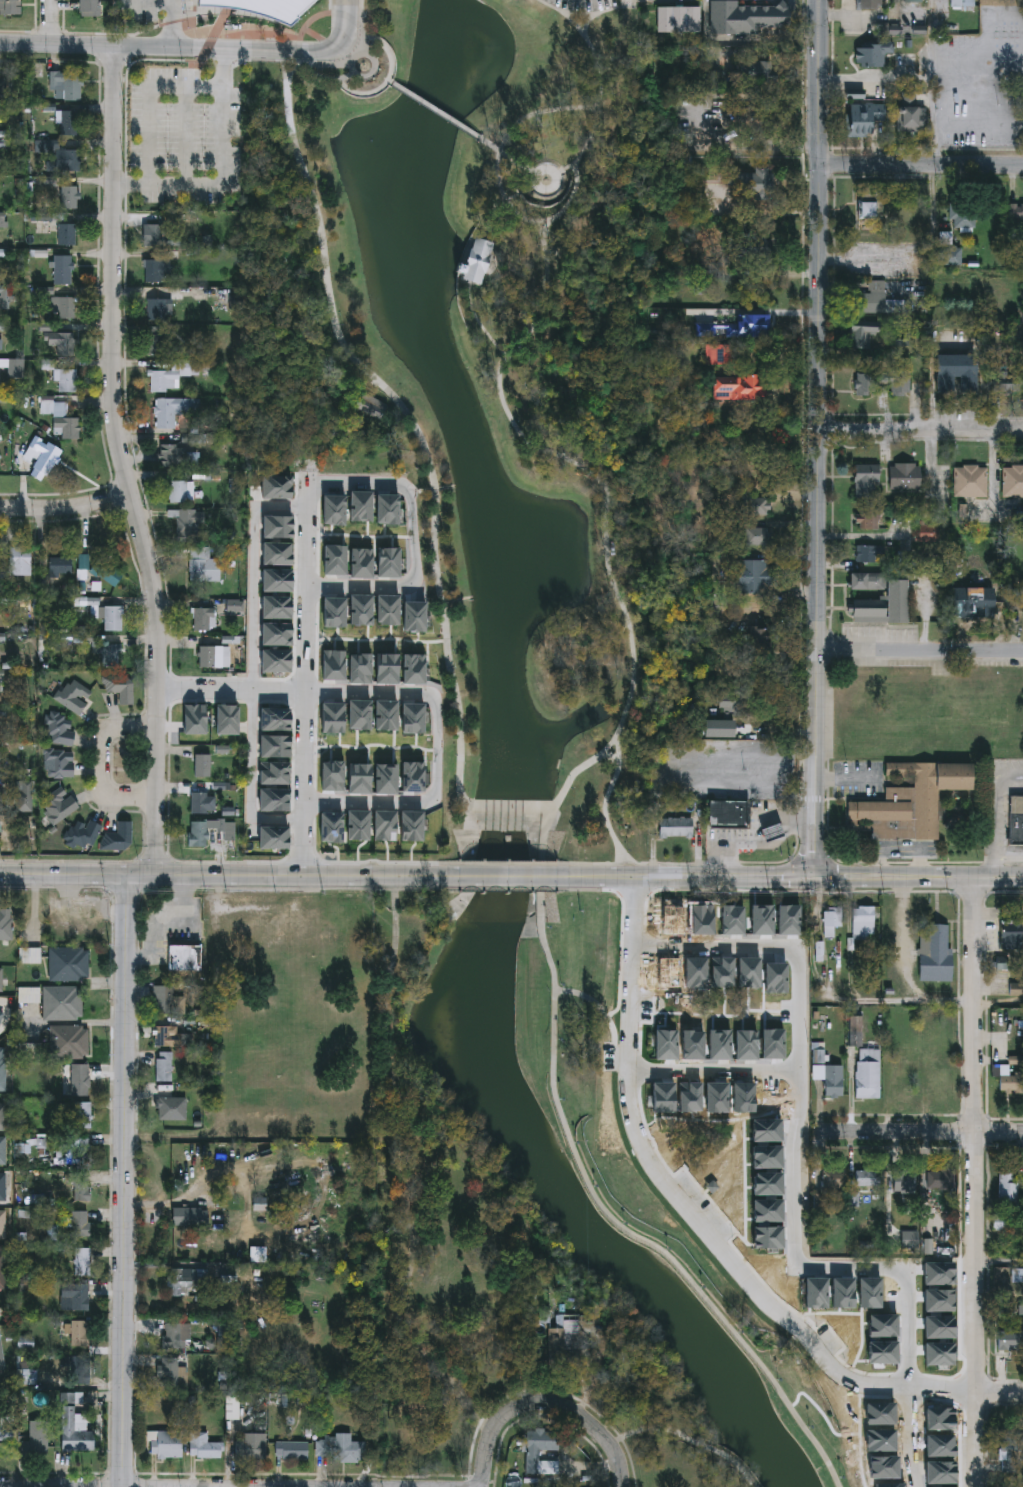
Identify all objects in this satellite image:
building: (914, 1)
road: (153, 3)
parking lot: (154, 4)
building: (870, 4)
building: (960, 4)
building: (9, 6)
road: (331, 6)
building: (89, 8)
building: (258, 9)
road: (319, 15)
road: (584, 16)
building: (748, 18)
road: (989, 19)
building: (679, 20)
road: (55, 22)
road: (172, 23)
road: (589, 25)
road: (330, 43)
road: (749, 43)
road: (364, 46)
road: (193, 48)
building: (871, 54)
road: (978, 56)
road: (356, 58)
road: (327, 64)
road: (372, 76)
road: (318, 77)
road: (346, 77)
road: (878, 79)
road: (822, 81)
road: (934, 81)
road: (389, 82)
building: (67, 85)
parking lot: (982, 85)
building: (172, 87)
building: (2, 89)
road: (978, 92)
road: (603, 95)
road: (145, 96)
road: (436, 110)
road: (541, 113)
building: (863, 117)
building: (912, 118)
building: (71, 123)
road: (978, 126)
building: (160, 127)
parking lot: (181, 129)
road: (184, 134)
road: (491, 146)
building: (62, 156)
building: (168, 158)
road: (922, 163)
road: (519, 164)
road: (222, 170)
road: (554, 172)
building: (754, 185)
road: (503, 196)
building: (70, 197)
building: (160, 201)
building: (867, 203)
road: (572, 204)
building: (1017, 211)
building: (962, 214)
building: (67, 234)
building: (161, 236)
building: (948, 256)
building: (477, 260)
building: (63, 270)
building: (154, 271)
building: (4, 296)
building: (871, 298)
building: (64, 309)
building: (160, 310)
road: (480, 325)
building: (753, 327)
building: (704, 330)
building: (861, 334)
building: (155, 341)
building: (62, 343)
building: (722, 355)
building: (13, 368)
building: (954, 372)
building: (173, 375)
building: (65, 380)
building: (1008, 381)
park: (481, 382)
building: (881, 382)
building: (738, 388)
building: (370, 405)
building: (174, 410)
road: (408, 417)
building: (65, 423)
road: (922, 431)
building: (43, 454)
building: (172, 454)
building: (0, 457)
building: (0, 459)
road: (122, 462)
building: (906, 477)
building: (971, 480)
building: (867, 481)
building: (1014, 481)
building: (178, 491)
road: (65, 506)
building: (756, 507)
building: (869, 518)
road: (821, 520)
building: (184, 523)
road: (307, 530)
building: (929, 532)
building: (756, 536)
road: (866, 536)
building: (873, 554)
building: (20, 560)
building: (203, 564)
building: (60, 565)
building: (101, 569)
road: (255, 570)
building: (755, 575)
building: (867, 581)
building: (1022, 594)
building: (884, 605)
building: (973, 606)
building: (105, 613)
building: (204, 618)
building: (755, 644)
building: (113, 654)
building: (211, 656)
road: (921, 656)
building: (121, 685)
road: (414, 687)
building: (0, 691)
building: (74, 695)
building: (727, 706)
building: (61, 729)
building: (202, 729)
road: (612, 758)
road: (106, 761)
building: (60, 762)
building: (203, 764)
road: (666, 766)
road: (849, 780)
building: (1, 801)
building: (203, 802)
building: (910, 802)
building: (59, 804)
road: (514, 805)
road: (609, 808)
road: (998, 814)
building: (728, 815)
building: (1015, 819)
road: (762, 823)
building: (676, 829)
building: (200, 832)
building: (85, 833)
building: (773, 833)
gas station: (773, 833)
building: (120, 837)
road: (763, 847)
road: (543, 853)
road: (68, 861)
road: (157, 862)
road: (229, 862)
road: (814, 862)
road: (928, 862)
road: (302, 863)
road: (382, 863)
road: (709, 863)
road: (505, 864)
road: (599, 865)
road: (223, 875)
road: (522, 877)
road: (810, 877)
traffic signals: (819, 877)
road: (831, 877)
road: (55, 886)
road: (503, 889)
road: (127, 891)
road: (764, 891)
road: (1004, 892)
road: (972, 896)
building: (670, 919)
building: (700, 920)
building: (729, 920)
building: (759, 920)
building: (786, 920)
building: (832, 920)
building: (864, 922)
building: (6, 924)
building: (1009, 933)
building: (818, 951)
building: (934, 951)
building: (30, 954)
building: (184, 957)
building: (68, 963)
road: (904, 965)
building: (666, 972)
building: (693, 972)
building: (720, 972)
building: (746, 972)
building: (773, 978)
building: (1, 979)
building: (167, 1001)
building: (62, 1002)
road: (999, 1003)
road: (597, 1004)
building: (1, 1017)
road: (628, 1025)
building: (854, 1031)
building: (166, 1036)
building: (68, 1041)
road: (138, 1041)
building: (770, 1044)
building: (664, 1045)
building: (690, 1045)
building: (717, 1045)
building: (744, 1045)
building: (818, 1053)
parking lot: (607, 1057)
building: (163, 1066)
building: (3, 1069)
road: (715, 1071)
building: (867, 1072)
building: (938, 1076)
building: (748, 1077)
building: (830, 1078)
building: (79, 1079)
building: (902, 1080)
building: (1010, 1081)
building: (714, 1097)
building: (660, 1098)
building: (687, 1098)
building: (741, 1098)
building: (170, 1107)
building: (82, 1114)
building: (2, 1115)
building: (764, 1131)
road: (921, 1131)
building: (80, 1149)
building: (3, 1150)
building: (764, 1158)
building: (833, 1177)
building: (867, 1177)
building: (940, 1178)
building: (903, 1179)
road: (126, 1181)
road: (974, 1181)
park: (603, 1183)
building: (764, 1185)
building: (3, 1186)
road: (794, 1186)
building: (80, 1187)
building: (1008, 1188)
building: (765, 1211)
building: (183, 1215)
building: (1000, 1221)
building: (3, 1224)
building: (80, 1224)
building: (765, 1237)
building: (911, 1239)
road: (999, 1261)
building: (82, 1262)
building: (2, 1267)
building: (936, 1274)
building: (185, 1280)
building: (813, 1293)
building: (867, 1293)
building: (840, 1294)
building: (75, 1296)
building: (935, 1301)
road: (792, 1322)
building: (880, 1326)
building: (936, 1327)
building: (78, 1332)
building: (172, 1335)
building: (1010, 1338)
building: (563, 1341)
building: (879, 1352)
building: (936, 1354)
building: (169, 1372)
road: (1000, 1390)
road: (524, 1408)
building: (878, 1414)
building: (937, 1419)
building: (74, 1427)
building: (38, 1434)
building: (433, 1440)
road: (690, 1440)
building: (877, 1441)
building: (165, 1444)
building: (1010, 1445)
building: (206, 1446)
building: (937, 1447)
building: (253, 1449)
building: (337, 1449)
building: (292, 1450)
building: (533, 1452)
road: (620, 1461)
building: (881, 1468)
building: (938, 1473)
building: (887, 1485)
road: (242, 1486)

